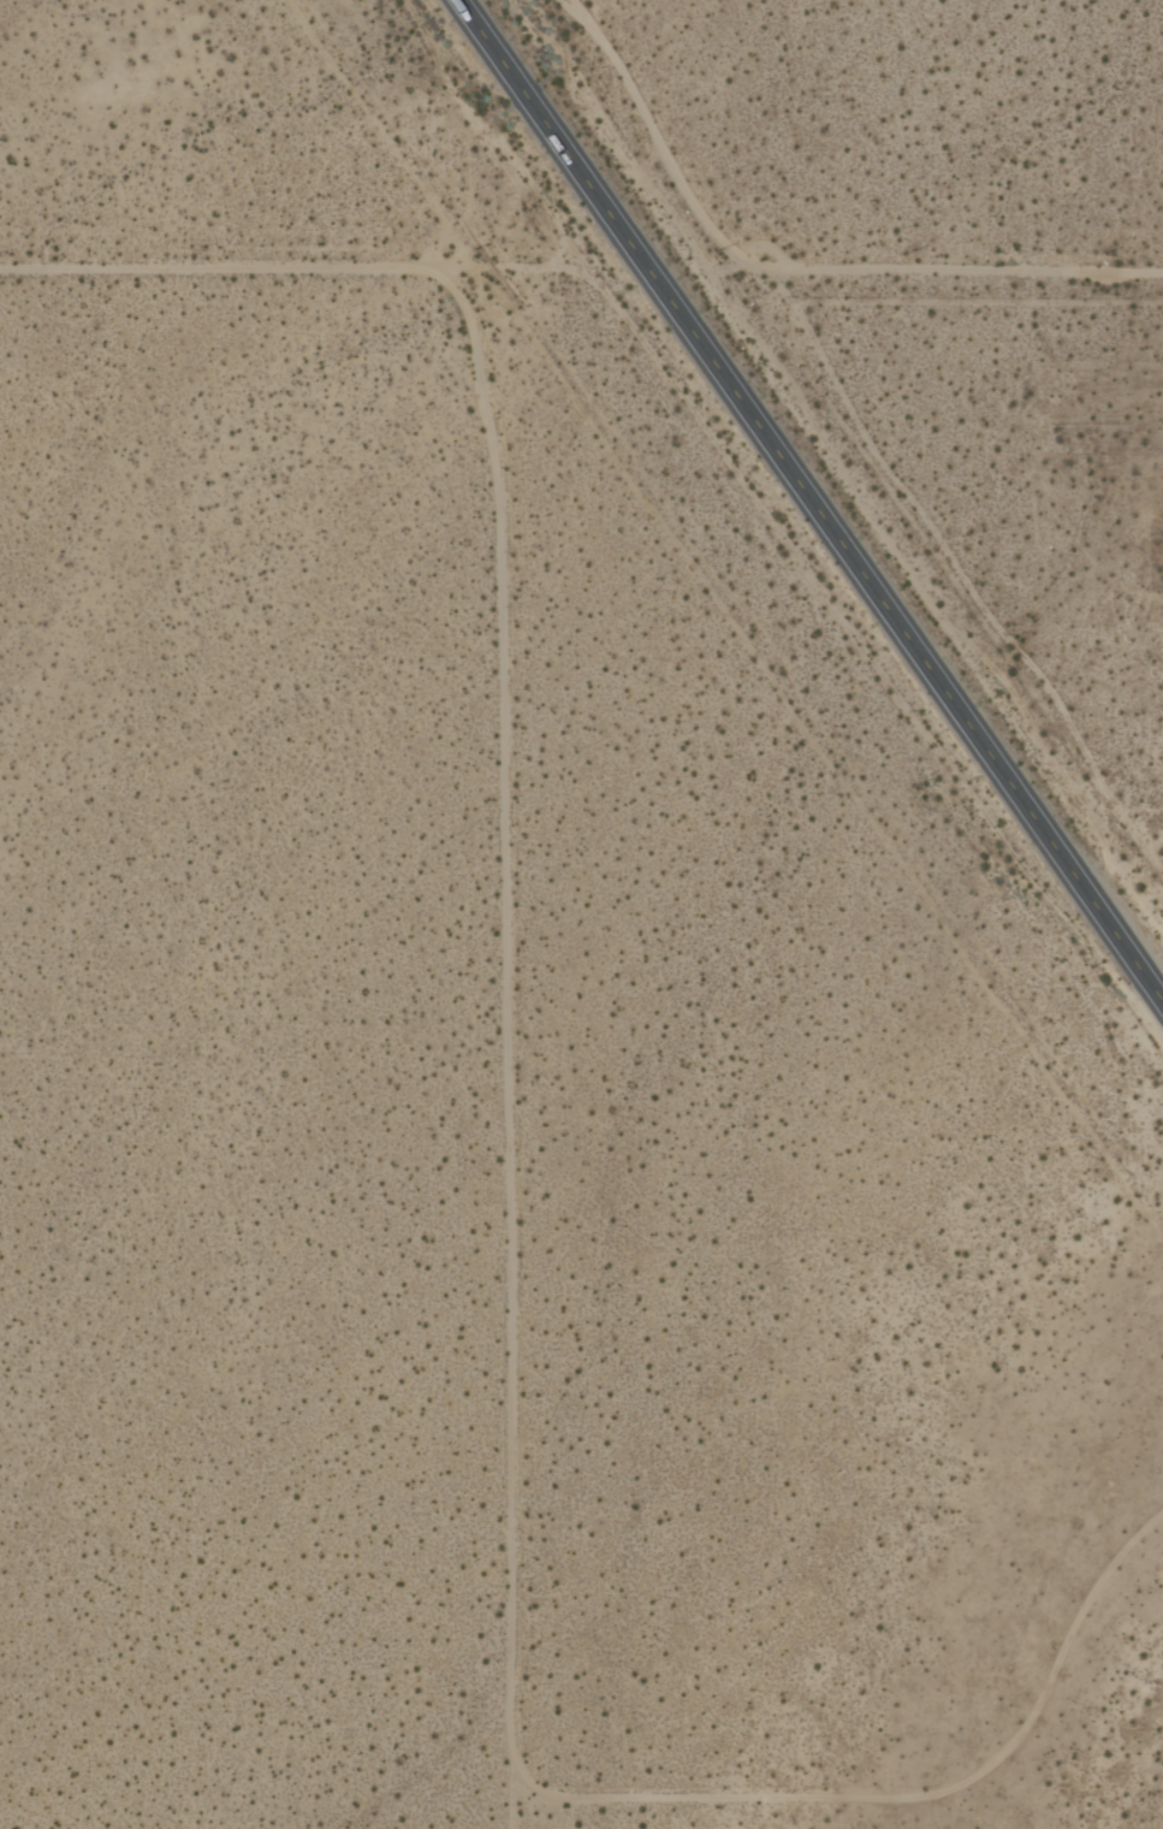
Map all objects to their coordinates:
road: (556, 137)
road: (218, 268)
road: (795, 268)
road: (908, 637)
road: (504, 1414)

